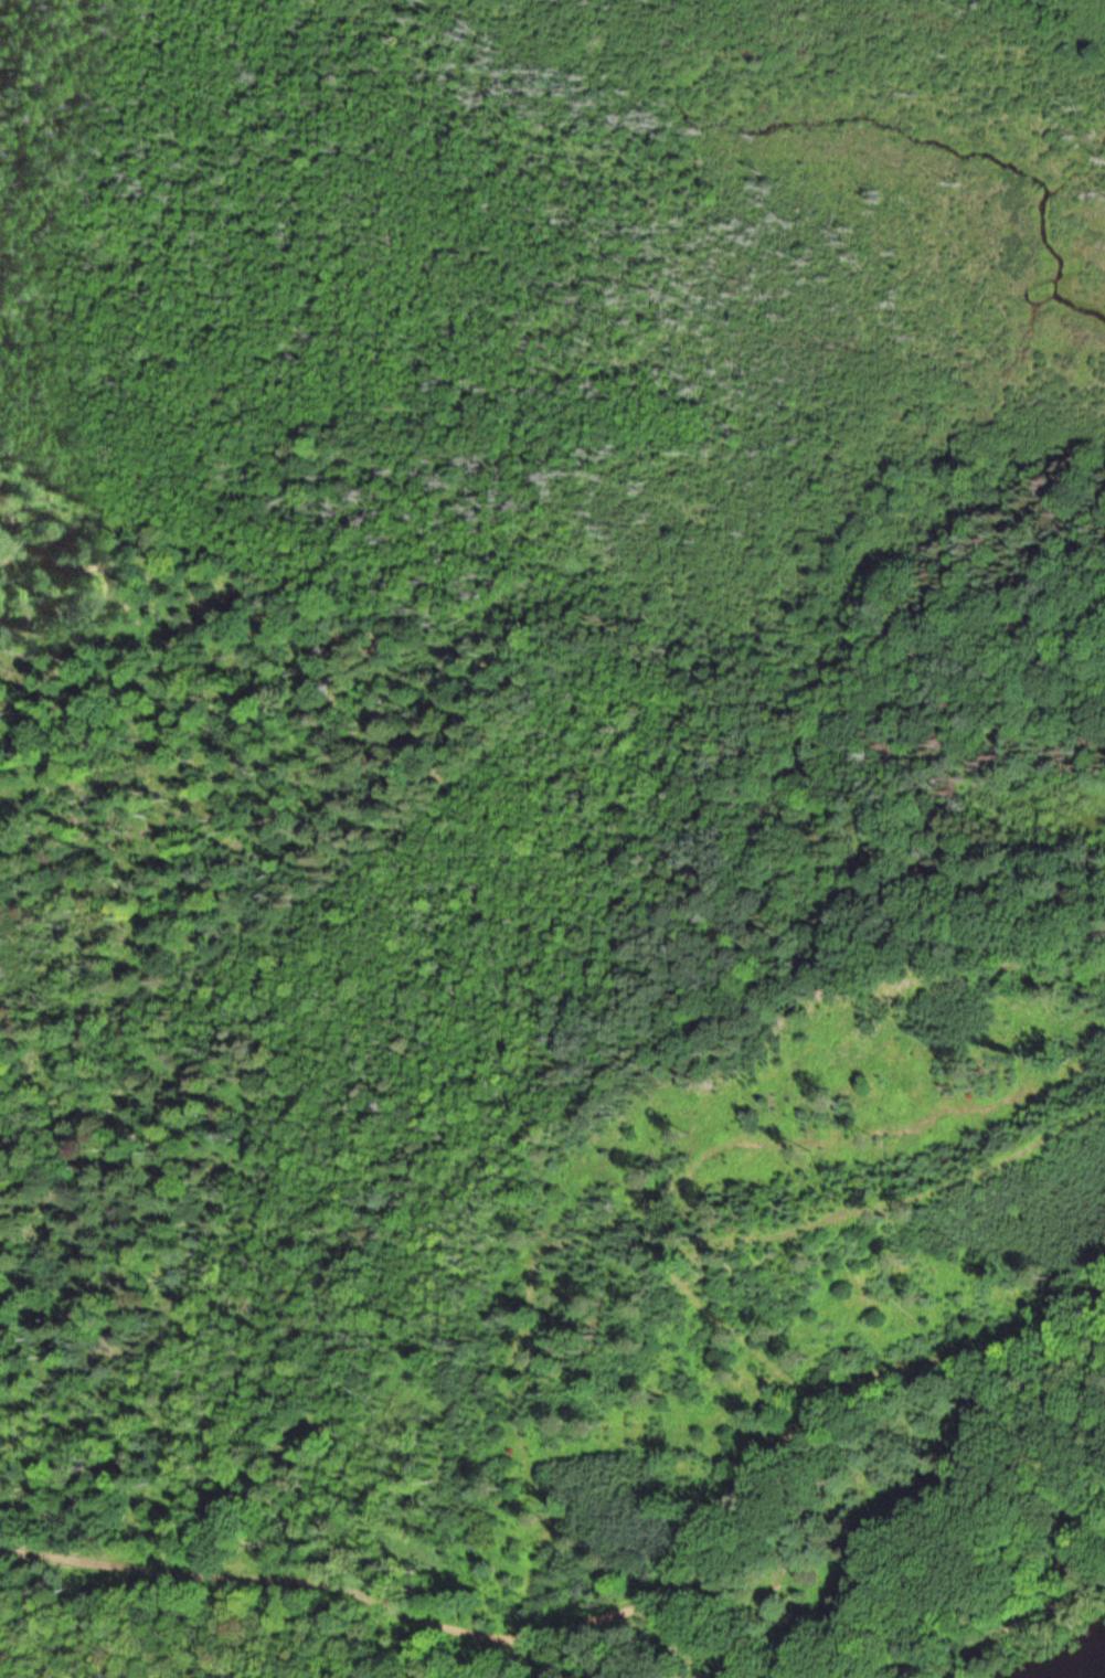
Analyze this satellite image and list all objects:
road: (559, 609)
road: (607, 1618)

